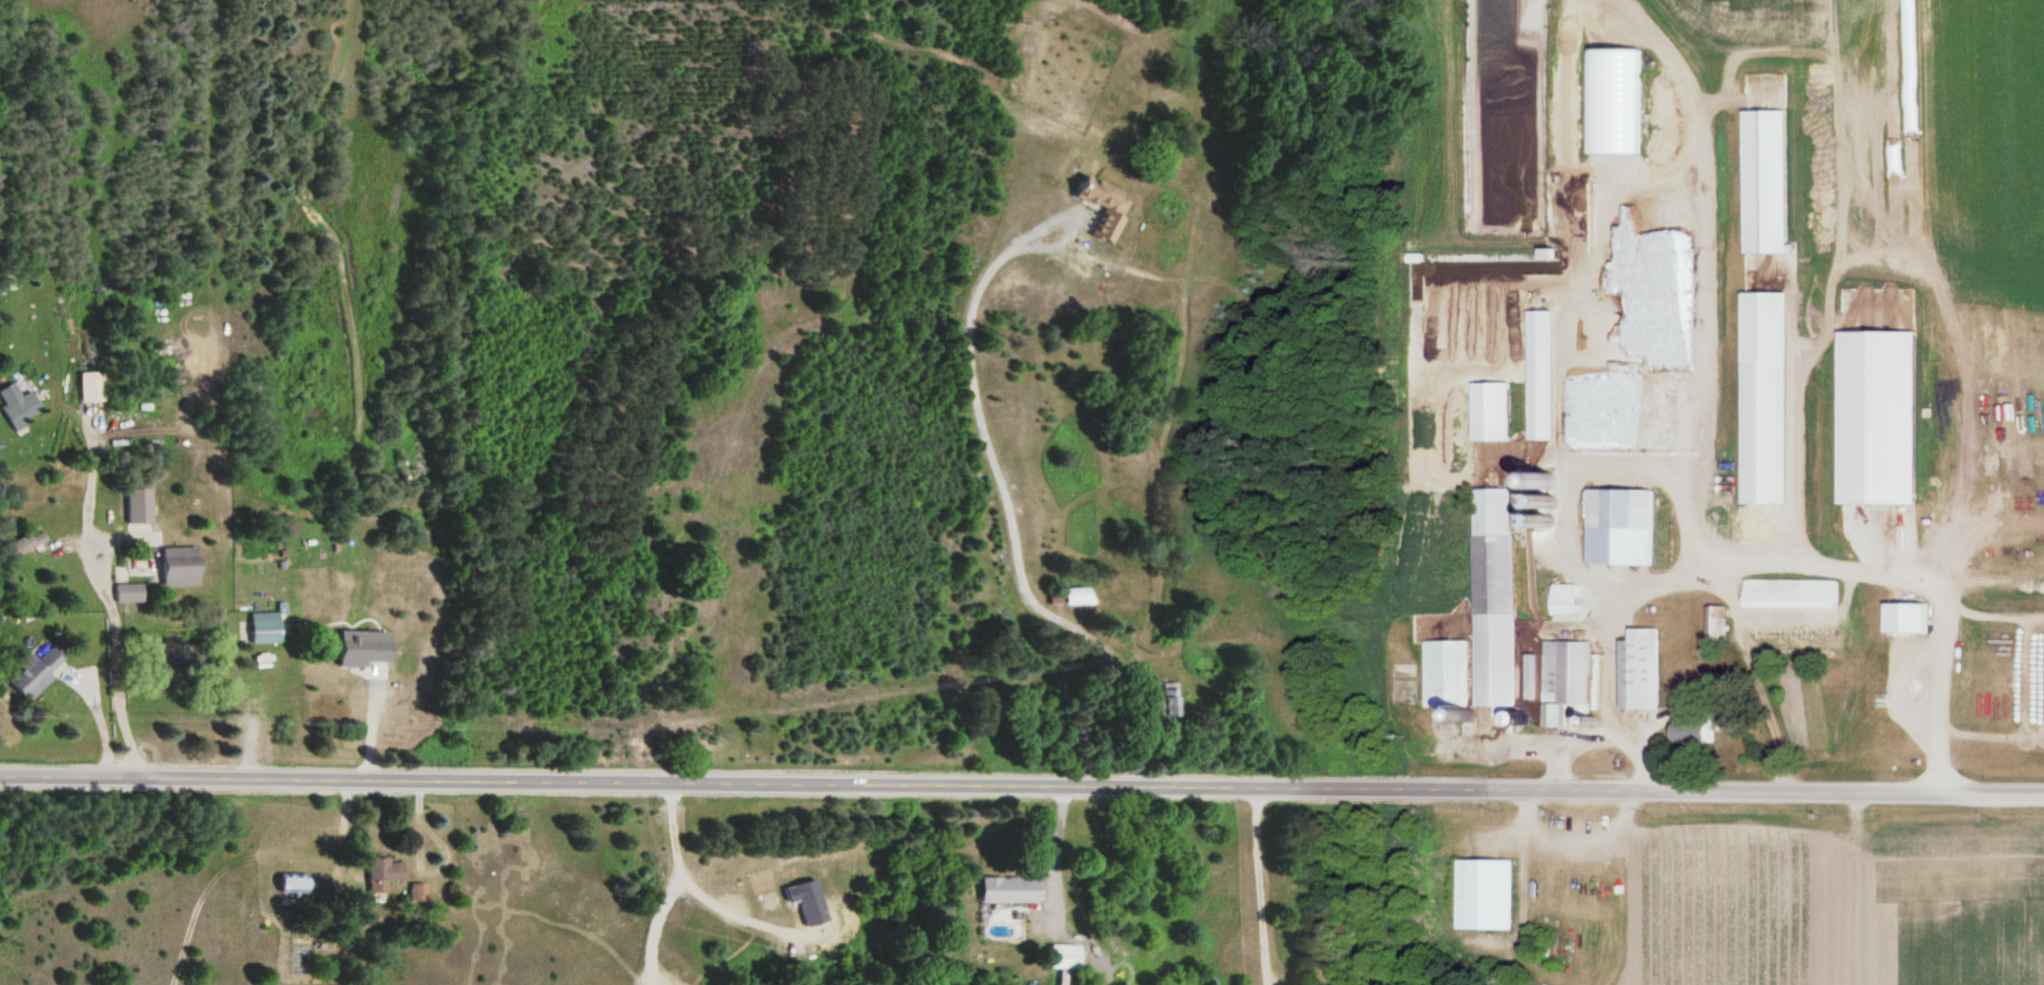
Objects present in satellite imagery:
building: (1093, 207)
building: (95, 387)
building: (20, 407)
building: (1484, 411)
building: (1758, 432)
building: (140, 505)
building: (1616, 527)
building: (28, 543)
building: (183, 566)
building: (130, 593)
building: (1786, 593)
building: (1063, 597)
building: (1491, 597)
building: (1901, 617)
building: (1713, 624)
building: (259, 631)
road: (113, 664)
building: (1636, 669)
building: (36, 670)
building: (1442, 673)
building: (1563, 681)
building: (1690, 729)
road: (1021, 786)
building: (289, 883)
building: (999, 889)
building: (414, 892)
building: (1483, 894)

